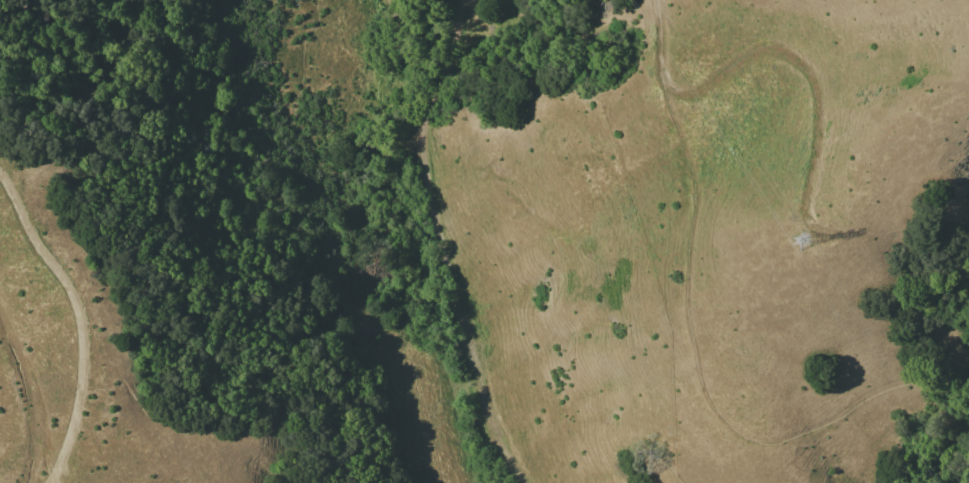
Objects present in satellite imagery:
power tower: (807, 242)
road: (442, 244)
road: (80, 322)
road: (691, 325)
road: (958, 470)

